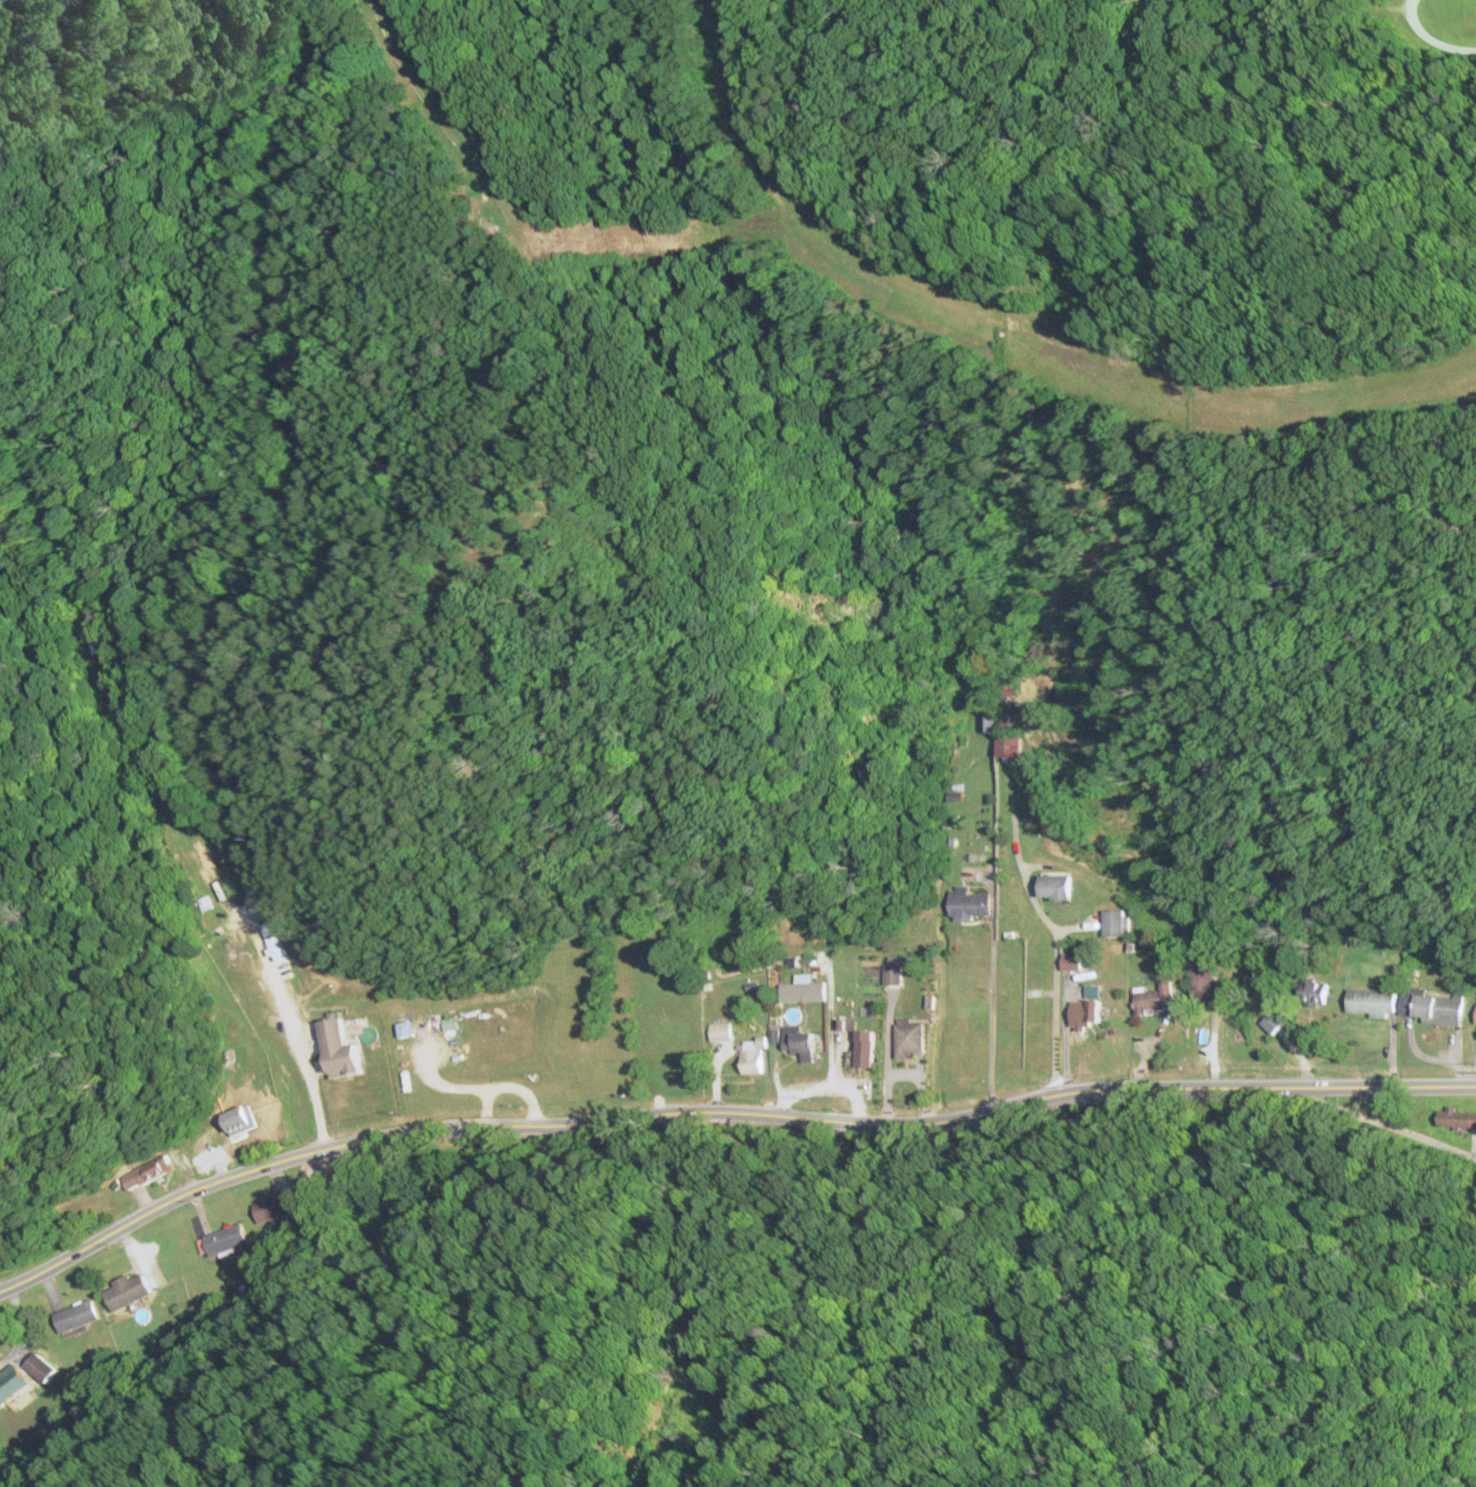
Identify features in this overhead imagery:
building: (1008, 747)
building: (205, 861)
building: (1052, 886)
building: (968, 903)
building: (1114, 922)
building: (1071, 961)
building: (893, 974)
building: (1203, 976)
building: (1312, 992)
building: (1152, 998)
building: (1371, 1001)
building: (1433, 1007)
building: (1087, 1014)
building: (1475, 1017)
building: (449, 1024)
building: (719, 1031)
building: (911, 1040)
building: (797, 1041)
building: (859, 1043)
building: (750, 1057)
building: (337, 1101)
road: (723, 1112)
building: (1456, 1119)
road: (1381, 1124)
building: (144, 1173)
building: (275, 1208)
building: (226, 1239)
building: (126, 1291)
building: (75, 1316)
building: (38, 1367)
power tower: (64, 1382)
building: (14, 1388)

